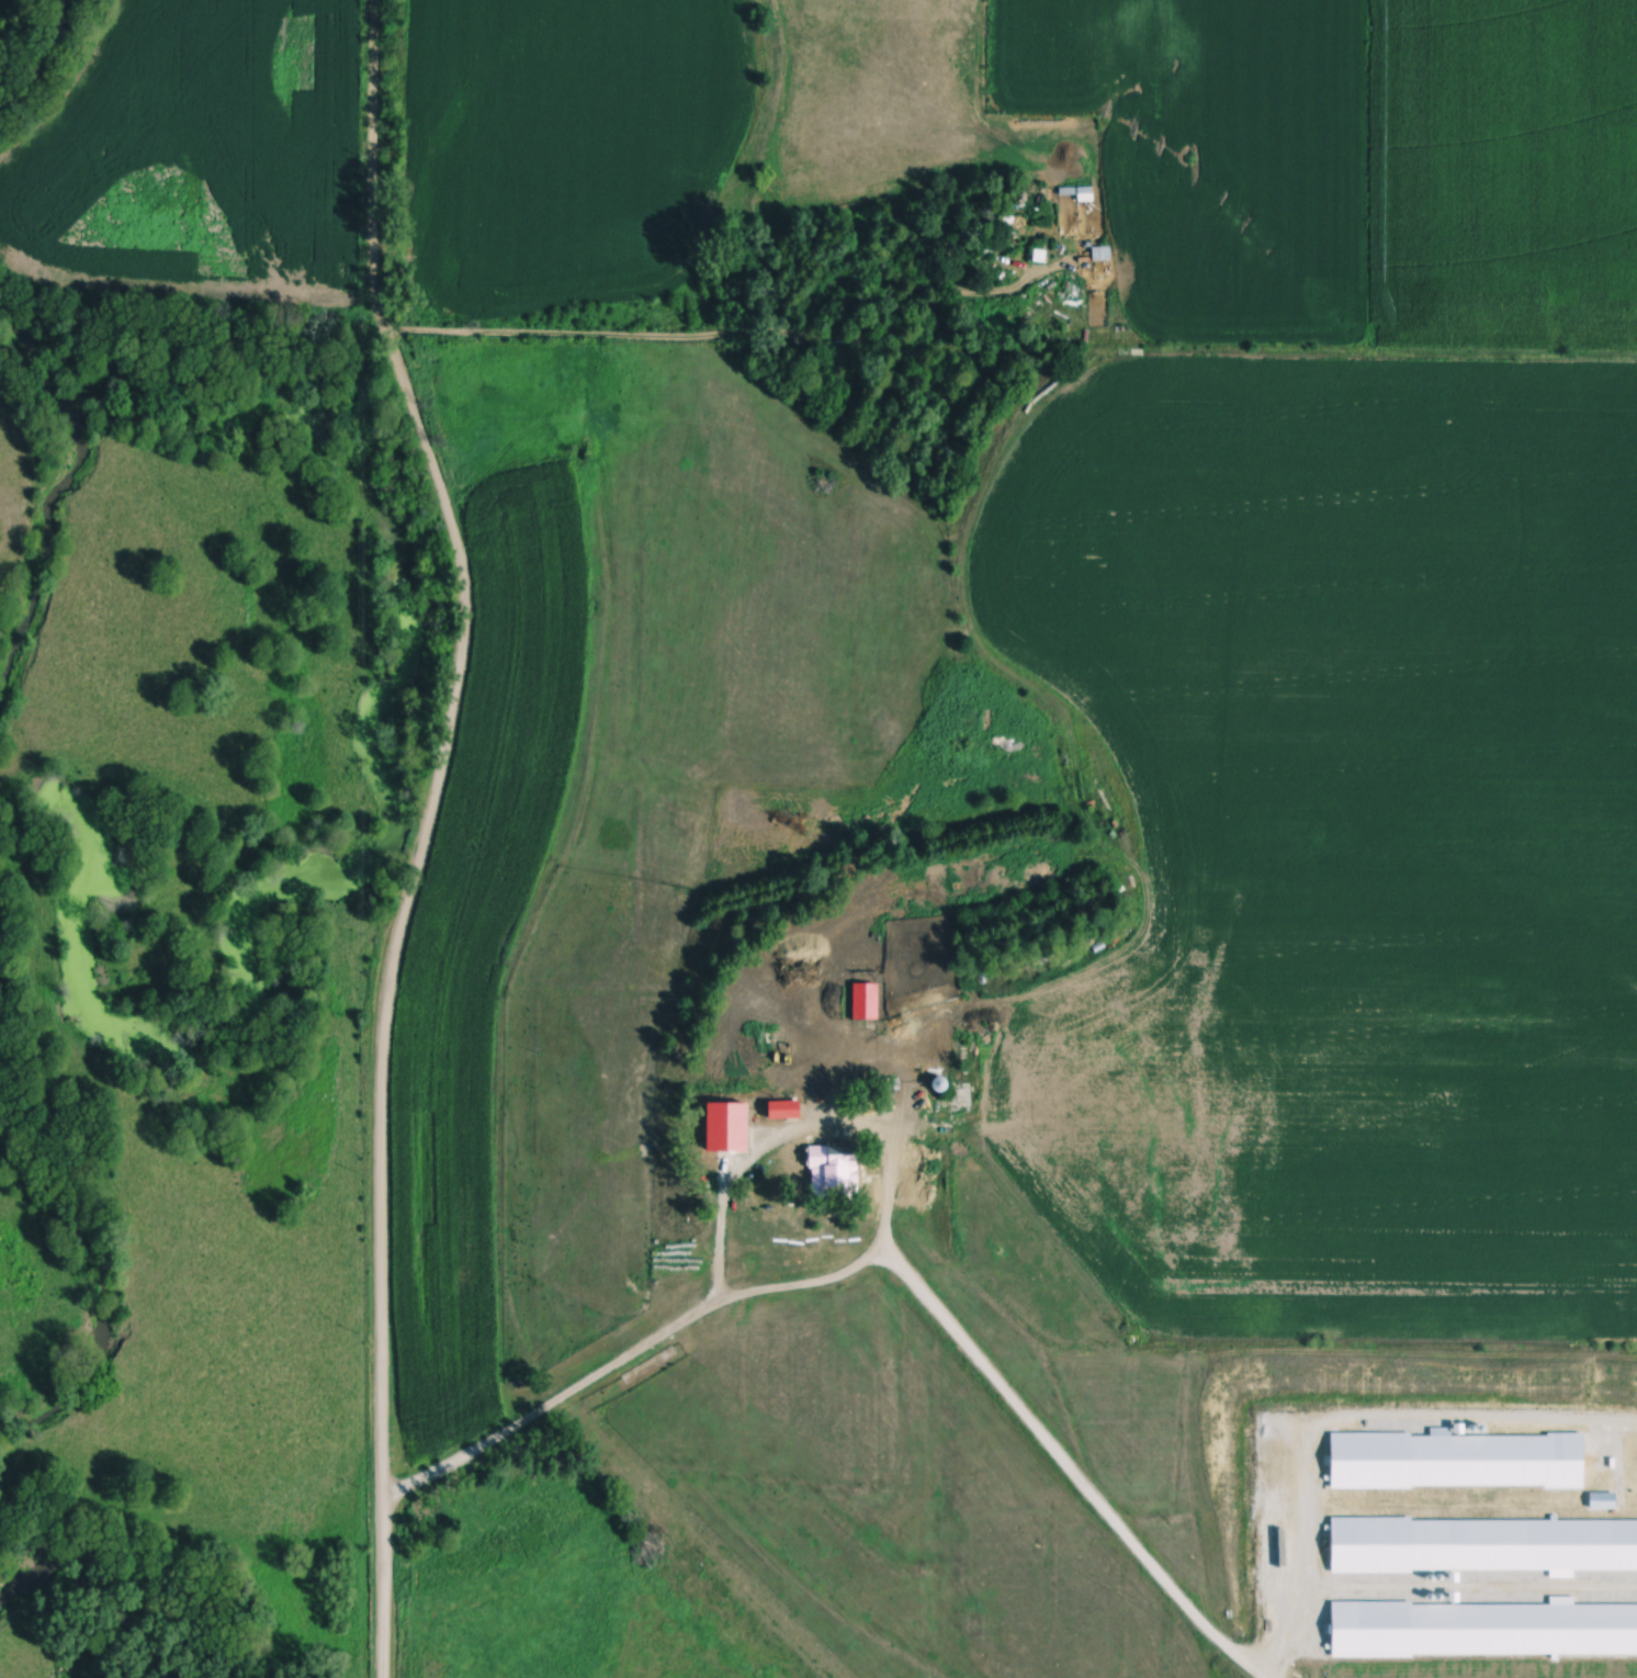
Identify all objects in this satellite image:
river: (48, 64)
building: (1076, 192)
building: (990, 248)
road: (702, 338)
river: (41, 492)
road: (424, 833)
building: (866, 1024)
building: (940, 1046)
road: (850, 1074)
building: (786, 1112)
building: (793, 1130)
road: (720, 1178)
building: (838, 1178)
river: (109, 1303)
road: (666, 1330)
river: (104, 1581)

